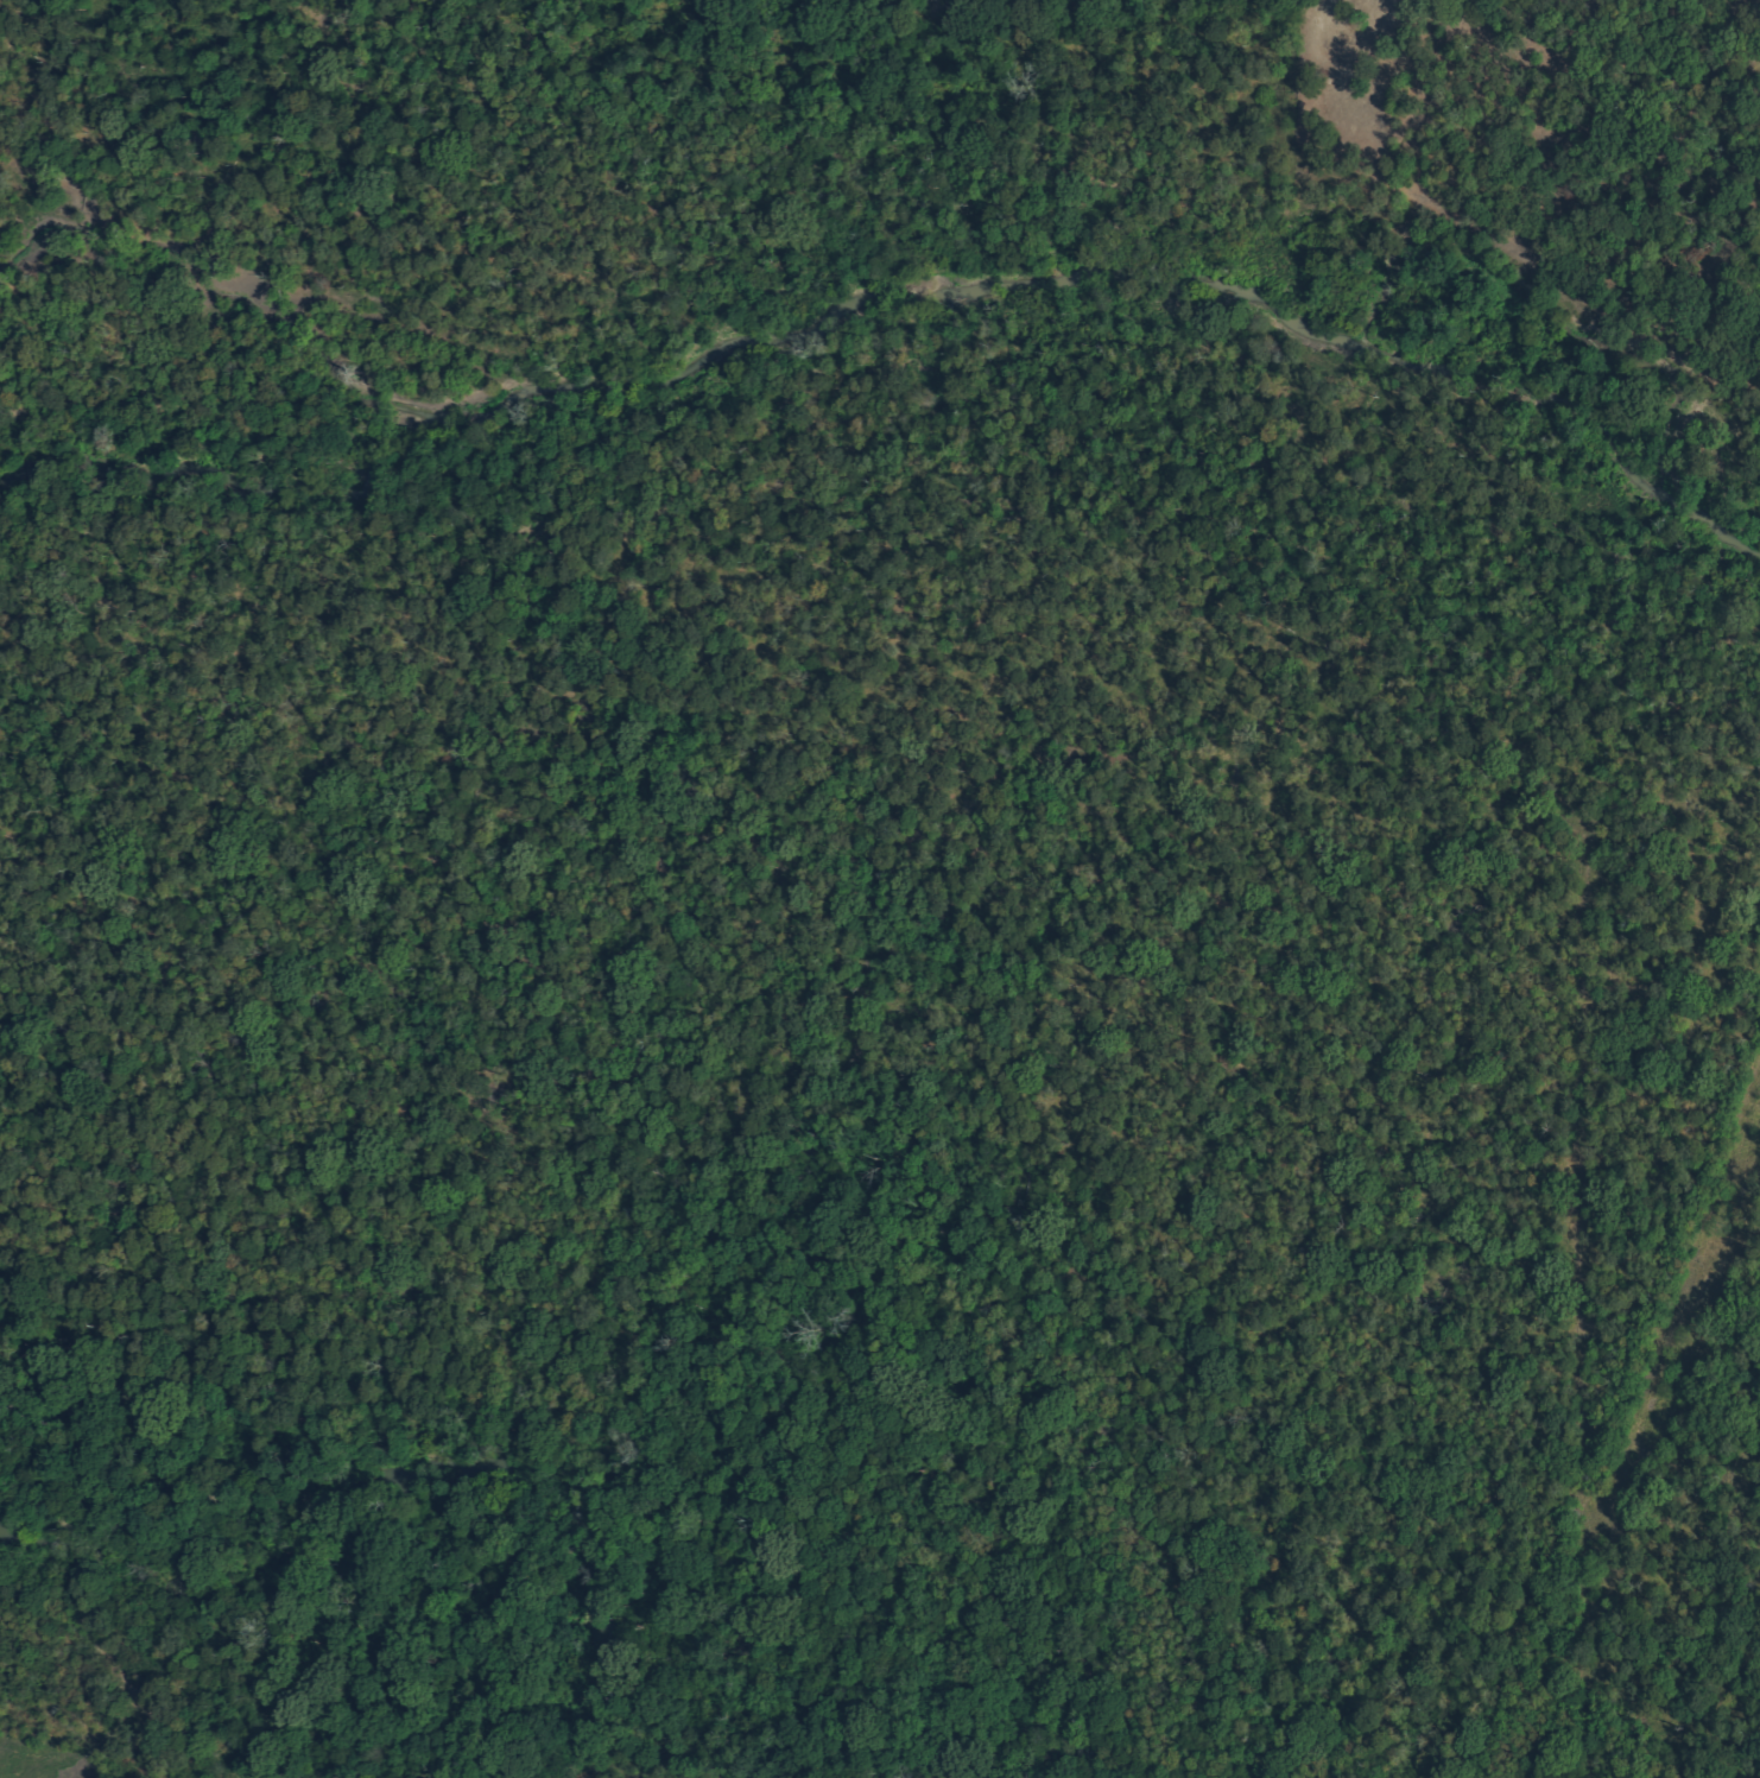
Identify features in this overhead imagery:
river: (412, 1469)

